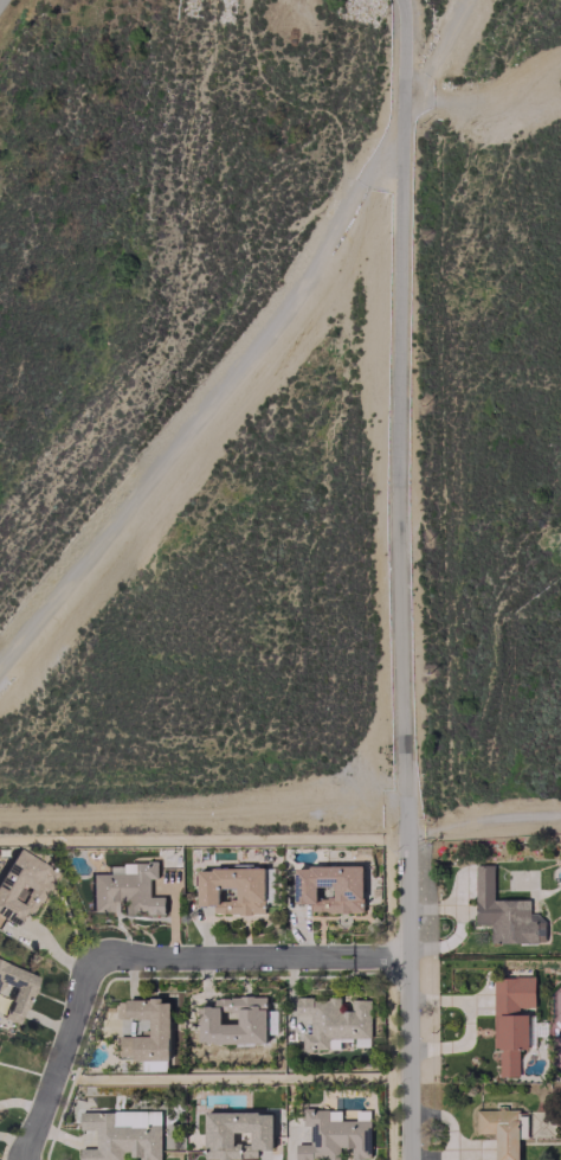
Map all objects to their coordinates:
road: (400, 579)
road: (482, 818)
building: (21, 884)
building: (328, 887)
building: (125, 889)
building: (231, 889)
building: (504, 912)
road: (378, 954)
road: (220, 955)
building: (14, 989)
building: (509, 1018)
building: (232, 1019)
building: (333, 1021)
building: (157, 1026)
road: (56, 1058)
building: (502, 1130)
building: (121, 1134)
building: (236, 1134)
building: (331, 1135)

